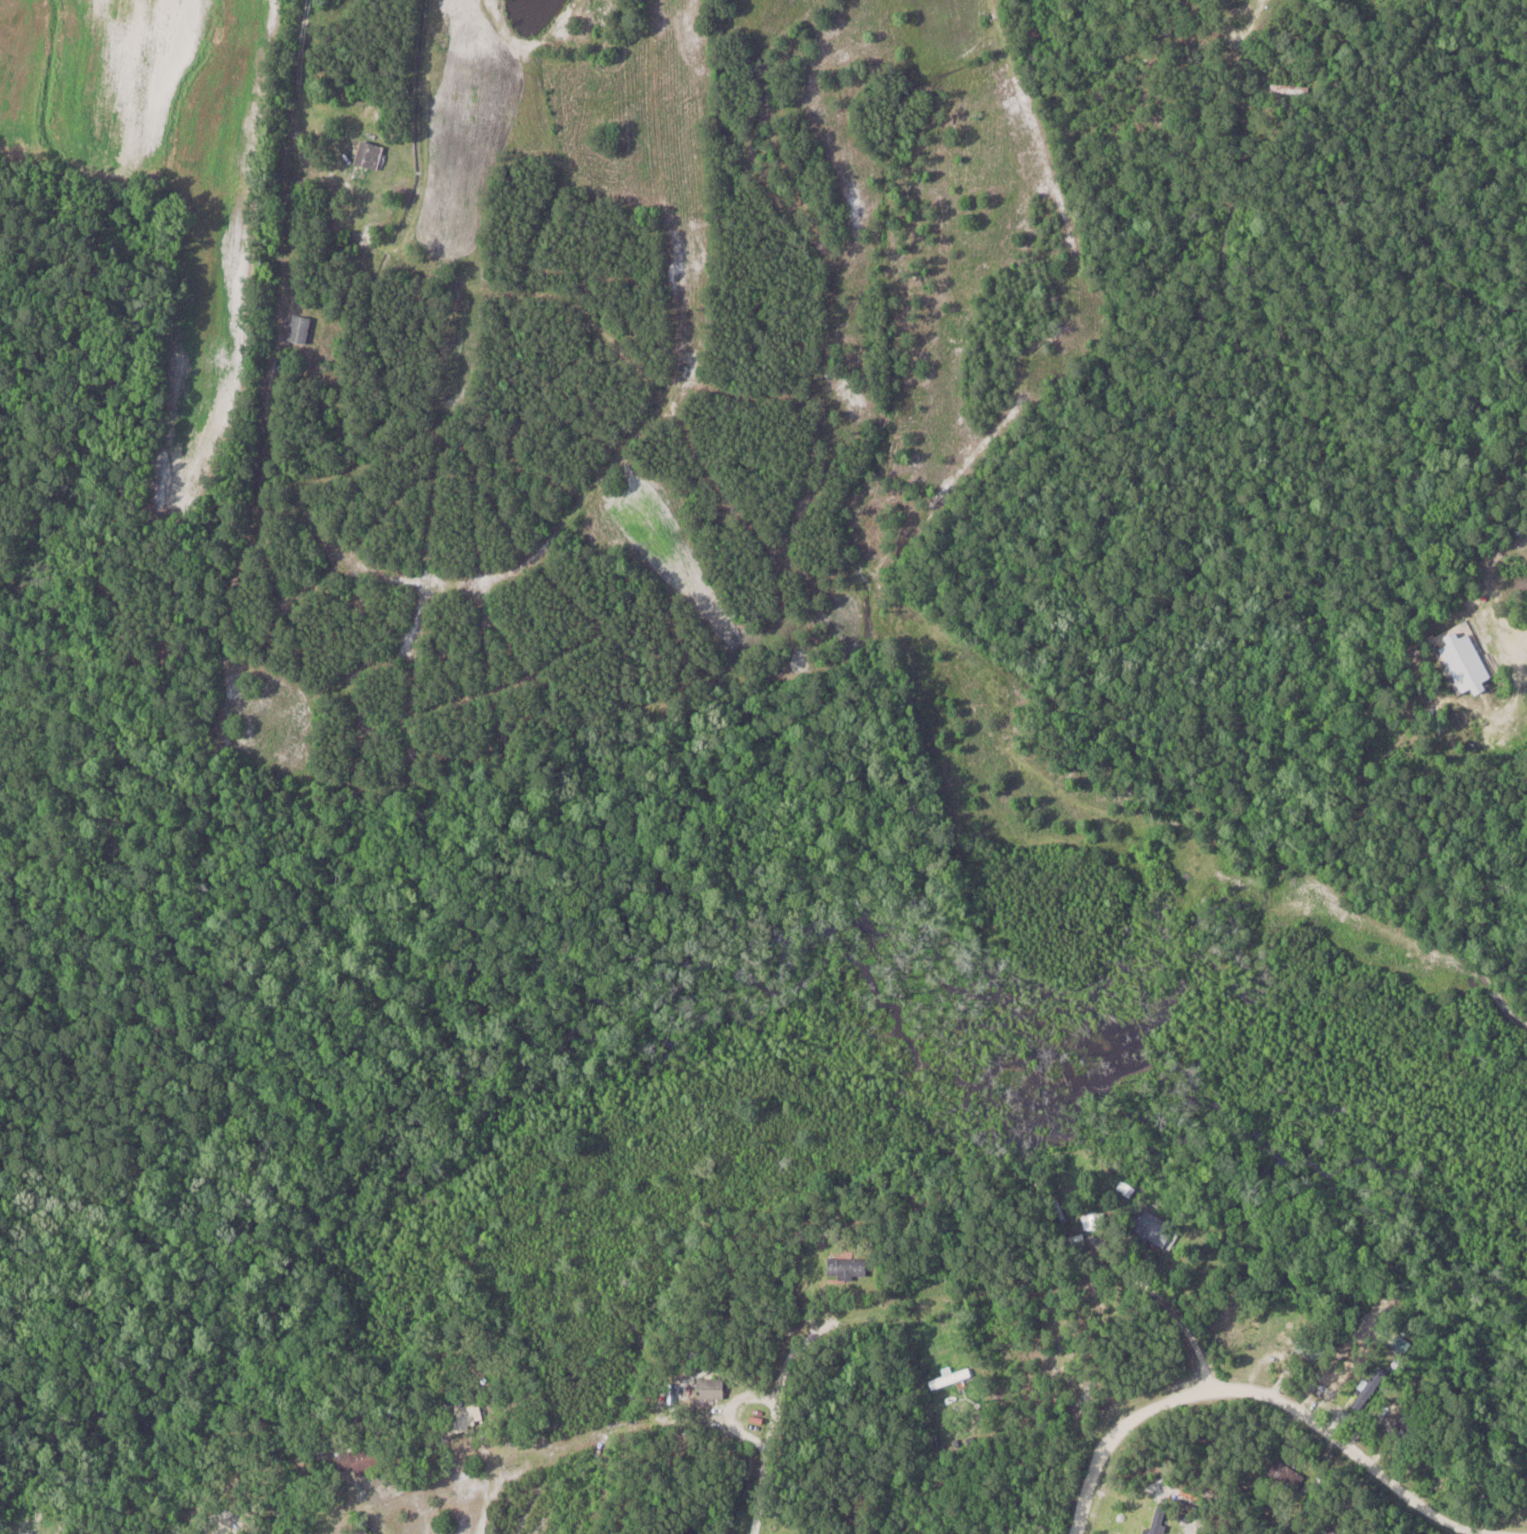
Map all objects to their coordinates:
road: (1235, 15)
building: (1292, 88)
building: (369, 154)
building: (298, 327)
building: (1467, 662)
road: (1492, 683)
building: (1094, 1221)
building: (1153, 1230)
building: (851, 1268)
road: (1166, 1309)
building: (1269, 1329)
road: (846, 1333)
building: (950, 1377)
building: (710, 1388)
road: (1273, 1399)
building: (467, 1415)
building: (1410, 1422)
building: (1287, 1475)
road: (364, 1523)

